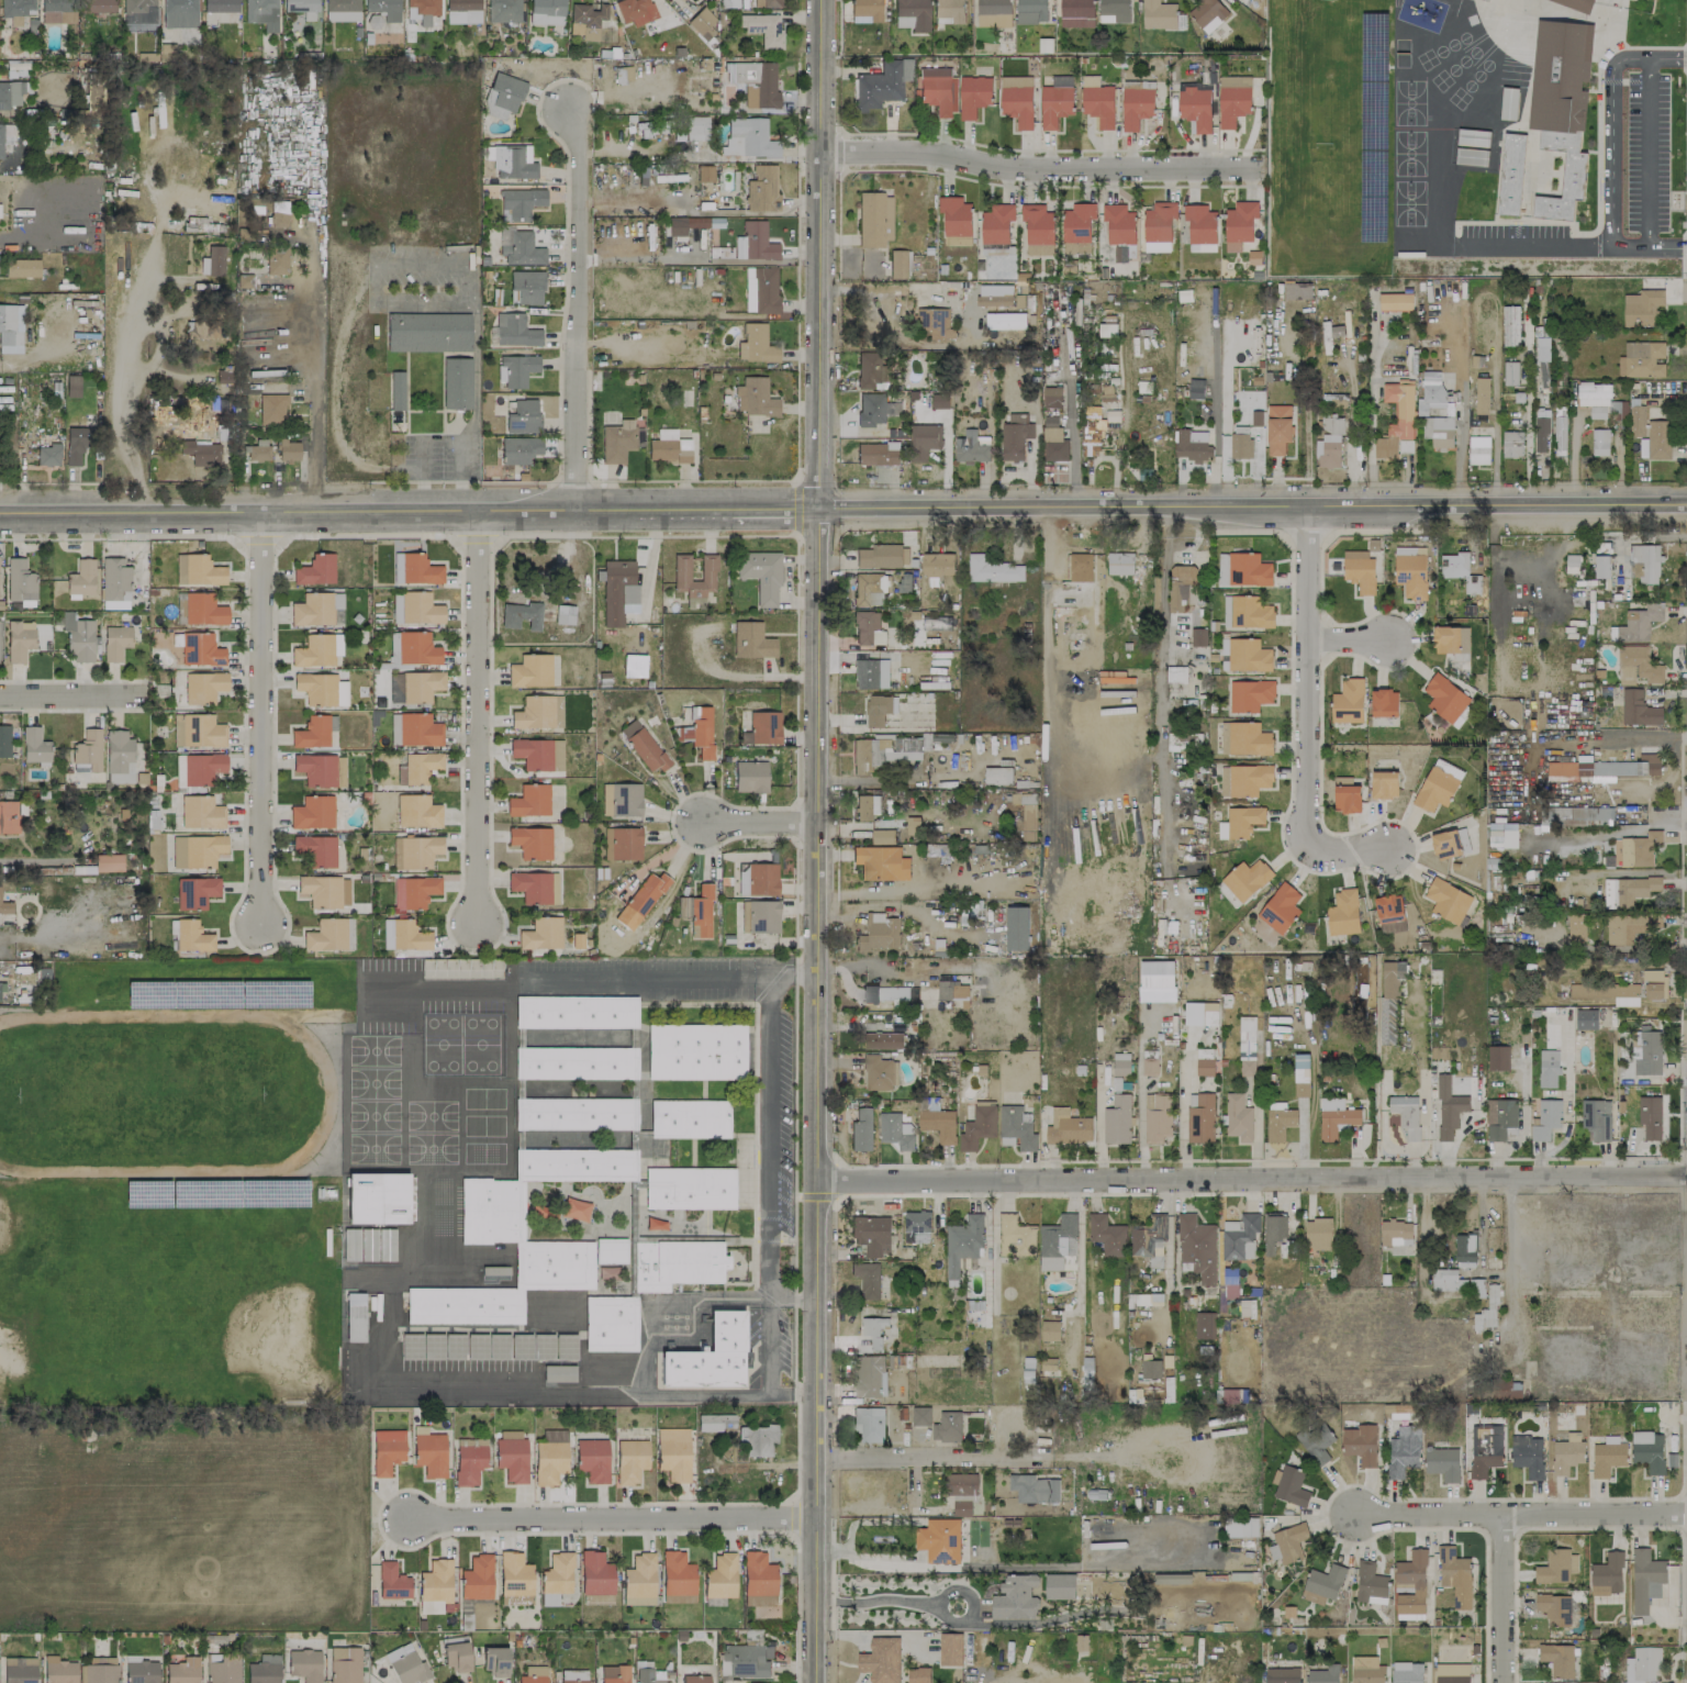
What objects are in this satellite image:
building: (1487, 0)
building: (764, 3)
building: (1577, 4)
building: (98, 5)
building: (220, 5)
building: (301, 7)
building: (384, 8)
building: (867, 9)
building: (16, 10)
building: (343, 10)
building: (425, 10)
building: (503, 10)
building: (58, 11)
building: (462, 11)
building: (545, 11)
building: (635, 11)
building: (949, 11)
building: (1031, 11)
building: (1114, 11)
building: (179, 13)
building: (261, 13)
building: (994, 13)
building: (1076, 13)
building: (1208, 13)
building: (912, 14)
building: (1159, 14)
building: (138, 15)
building: (589, 18)
building: (701, 23)
building: (763, 27)
building: (622, 74)
building: (680, 79)
building: (753, 82)
building: (881, 83)
building: (937, 90)
road: (621, 91)
building: (12, 93)
building: (504, 94)
building: (973, 94)
building: (1232, 99)
building: (1016, 100)
building: (1097, 101)
building: (1054, 102)
building: (1137, 104)
building: (1194, 105)
building: (1561, 105)
building: (696, 127)
building: (650, 129)
building: (748, 138)
parking lot: (1646, 152)
road: (1649, 152)
road: (1611, 156)
building: (513, 161)
road: (1037, 170)
building: (704, 172)
building: (1510, 174)
building: (762, 188)
building: (521, 201)
building: (278, 213)
building: (874, 219)
building: (956, 220)
building: (699, 222)
building: (997, 223)
building: (1038, 223)
building: (1077, 223)
building: (1119, 223)
building: (1239, 224)
building: (1159, 226)
building: (1200, 227)
road: (43, 236)
building: (756, 242)
road: (1535, 246)
building: (522, 249)
building: (1040, 249)
building: (1124, 252)
road: (818, 254)
building: (277, 259)
building: (212, 260)
building: (22, 267)
road: (371, 267)
road: (796, 270)
building: (526, 287)
building: (760, 289)
road: (874, 289)
building: (1395, 301)
building: (1642, 308)
road: (573, 310)
building: (935, 322)
building: (1510, 325)
building: (11, 327)
building: (201, 328)
building: (515, 330)
building: (1107, 330)
building: (428, 332)
building: (756, 344)
building: (1642, 359)
building: (1542, 360)
building: (515, 369)
building: (870, 370)
building: (1510, 372)
road: (473, 374)
road: (311, 377)
road: (130, 379)
building: (456, 382)
building: (72, 384)
building: (1196, 389)
building: (396, 390)
building: (1099, 391)
building: (1593, 394)
building: (1481, 395)
building: (1052, 397)
building: (755, 398)
building: (939, 401)
road: (338, 404)
building: (271, 408)
building: (874, 409)
road: (1462, 413)
building: (1396, 417)
building: (1636, 421)
road: (1493, 427)
building: (1277, 428)
building: (1091, 431)
building: (1541, 431)
building: (1439, 432)
building: (1558, 433)
building: (1015, 436)
building: (1658, 439)
building: (617, 441)
building: (924, 441)
building: (1053, 441)
building: (1240, 442)
building: (1329, 442)
building: (1599, 442)
building: (76, 444)
building: (1511, 444)
road: (1073, 446)
building: (1194, 446)
building: (669, 447)
building: (971, 447)
building: (258, 449)
building: (288, 449)
building: (519, 449)
building: (1478, 449)
building: (201, 453)
building: (48, 454)
building: (878, 454)
road: (421, 473)
road: (460, 473)
road: (795, 508)
road: (1255, 508)
road: (411, 513)
road: (257, 538)
road: (476, 538)
road: (1494, 554)
building: (882, 556)
building: (1601, 559)
building: (1119, 562)
building: (1646, 562)
building: (937, 566)
building: (681, 567)
building: (1080, 567)
building: (414, 568)
building: (198, 569)
building: (993, 569)
building: (1243, 569)
building: (315, 570)
building: (1359, 570)
building: (1410, 570)
building: (1460, 570)
building: (760, 573)
building: (81, 577)
building: (20, 580)
building: (114, 583)
road: (1541, 584)
building: (1182, 586)
building: (870, 588)
building: (618, 590)
building: (421, 608)
building: (203, 609)
building: (315, 609)
building: (396, 610)
building: (1226, 611)
building: (1250, 612)
building: (565, 614)
building: (522, 615)
building: (1639, 623)
building: (868, 631)
building: (78, 636)
building: (1198, 636)
building: (19, 639)
building: (1450, 639)
building: (751, 640)
road: (1351, 640)
building: (115, 642)
building: (393, 647)
building: (417, 648)
building: (198, 649)
building: (317, 649)
building: (1248, 655)
building: (634, 665)
building: (1636, 666)
road: (1158, 667)
building: (530, 670)
building: (871, 673)
road: (1306, 675)
building: (203, 686)
building: (421, 686)
building: (321, 688)
building: (394, 688)
road: (72, 692)
building: (1250, 694)
building: (1446, 700)
building: (1348, 701)
building: (1384, 703)
building: (879, 709)
building: (1639, 709)
building: (538, 712)
road: (477, 716)
road: (260, 720)
building: (764, 727)
building: (393, 728)
building: (198, 729)
building: (418, 729)
building: (314, 731)
building: (699, 731)
building: (1244, 738)
building: (4, 740)
building: (1184, 740)
building: (34, 745)
building: (643, 746)
building: (88, 748)
building: (887, 750)
building: (537, 753)
building: (119, 757)
building: (418, 767)
building: (202, 768)
building: (315, 769)
building: (1601, 769)
building: (179, 770)
building: (750, 776)
building: (996, 776)
road: (795, 778)
building: (1249, 779)
building: (1224, 780)
building: (1384, 784)
building: (1437, 785)
building: (1347, 795)
building: (621, 799)
building: (529, 800)
building: (867, 806)
building: (417, 811)
building: (201, 812)
building: (313, 812)
building: (8, 816)
building: (1028, 816)
road: (763, 817)
building: (1240, 822)
building: (1500, 836)
building: (882, 837)
building: (532, 841)
building: (622, 843)
building: (1450, 843)
building: (316, 849)
building: (1640, 849)
building: (197, 850)
building: (415, 850)
road: (1348, 855)
road: (27, 860)
building: (108, 862)
building: (881, 862)
road: (244, 870)
building: (757, 879)
building: (1245, 879)
building: (530, 885)
building: (325, 890)
building: (414, 891)
building: (195, 892)
building: (646, 893)
building: (1446, 900)
road: (451, 903)
building: (5, 906)
building: (1280, 909)
building: (697, 911)
building: (1343, 913)
building: (1389, 913)
building: (760, 915)
building: (1628, 926)
building: (1016, 927)
building: (1576, 927)
building: (879, 933)
building: (541, 934)
building: (191, 935)
building: (326, 935)
building: (404, 935)
building: (1392, 978)
road: (771, 980)
building: (1157, 981)
building: (1654, 983)
building: (2, 987)
building: (1607, 992)
building: (885, 993)
building: (576, 1011)
building: (1200, 1013)
building: (1586, 1019)
building: (1386, 1036)
building: (882, 1040)
building: (1248, 1040)
building: (696, 1051)
building: (1649, 1052)
building: (1497, 1058)
building: (576, 1061)
building: (1204, 1061)
building: (1120, 1063)
building: (1149, 1066)
building: (1548, 1068)
building: (880, 1072)
park: (139, 1093)
road: (818, 1096)
building: (1448, 1107)
road: (767, 1111)
building: (574, 1113)
building: (1406, 1114)
building: (1158, 1116)
building: (1650, 1116)
building: (1199, 1117)
building: (1238, 1117)
building: (690, 1118)
building: (1336, 1118)
building: (1500, 1118)
building: (1596, 1118)
building: (1117, 1119)
building: (1546, 1119)
building: (1278, 1121)
building: (938, 1122)
building: (1017, 1126)
building: (977, 1127)
building: (1068, 1127)
building: (861, 1129)
building: (895, 1130)
building: (576, 1164)
road: (1252, 1177)
road: (795, 1181)
building: (689, 1188)
road: (815, 1196)
building: (377, 1197)
road: (771, 1217)
building: (917, 1226)
building: (1273, 1230)
building: (1395, 1233)
building: (872, 1234)
building: (1318, 1234)
building: (1107, 1235)
building: (1015, 1236)
building: (1148, 1236)
building: (1240, 1237)
road: (768, 1240)
road: (787, 1240)
building: (1058, 1241)
building: (1197, 1247)
building: (610, 1250)
building: (1465, 1250)
building: (675, 1263)
road: (1494, 1273)
building: (867, 1279)
building: (1446, 1280)
building: (1476, 1288)
park: (168, 1291)
road: (771, 1300)
road: (792, 1300)
building: (1487, 1309)
building: (355, 1316)
road: (1511, 1317)
building: (610, 1323)
building: (1204, 1325)
building: (873, 1329)
building: (1050, 1330)
road: (793, 1344)
building: (488, 1346)
building: (708, 1356)
building: (1151, 1368)
road: (767, 1371)
building: (558, 1372)
building: (870, 1375)
building: (1507, 1391)
road: (794, 1392)
building: (1227, 1396)
building: (920, 1415)
building: (716, 1422)
building: (869, 1425)
building: (947, 1427)
building: (757, 1439)
building: (1316, 1441)
building: (1360, 1444)
building: (1485, 1449)
building: (388, 1450)
building: (1404, 1450)
building: (1649, 1450)
building: (429, 1451)
building: (672, 1452)
building: (1567, 1453)
building: (1528, 1454)
building: (550, 1457)
building: (1607, 1458)
building: (512, 1459)
building: (592, 1459)
road: (947, 1459)
building: (469, 1460)
building: (630, 1460)
building: (1442, 1463)
building: (961, 1484)
building: (1291, 1486)
building: (1034, 1489)
building: (961, 1507)
road: (612, 1519)
road: (1519, 1520)
building: (1240, 1526)
building: (939, 1540)
building: (1288, 1542)
road: (865, 1558)
building: (1556, 1567)
building: (595, 1573)
building: (1607, 1574)
building: (1455, 1575)
building: (477, 1578)
building: (556, 1578)
building: (677, 1578)
building: (515, 1579)
building: (719, 1579)
building: (1646, 1579)
building: (638, 1580)
building: (758, 1580)
building: (392, 1582)
building: (1370, 1583)
building: (1322, 1584)
building: (435, 1585)
building: (1060, 1586)
building: (1410, 1586)
road: (953, 1592)
building: (599, 1597)
building: (1015, 1597)
road: (878, 1600)
road: (1502, 1603)
building: (1554, 1608)
road: (1051, 1619)
road: (876, 1634)
building: (950, 1649)
building: (457, 1656)
building: (1557, 1659)
building: (746, 1660)
building: (881, 1660)
building: (496, 1661)
building: (304, 1664)
building: (345, 1664)
building: (1642, 1664)
building: (409, 1668)
building: (264, 1669)
building: (20, 1670)
building: (59, 1670)
building: (98, 1670)
building: (182, 1670)
building: (223, 1670)
building: (141, 1671)
building: (1367, 1671)
building: (1406, 1672)
building: (1451, 1673)
building: (534, 1674)
building: (615, 1674)
building: (918, 1674)
building: (1325, 1674)
building: (573, 1675)
building: (649, 1675)
building: (1282, 1675)
building: (695, 1679)
road: (977, 1682)

